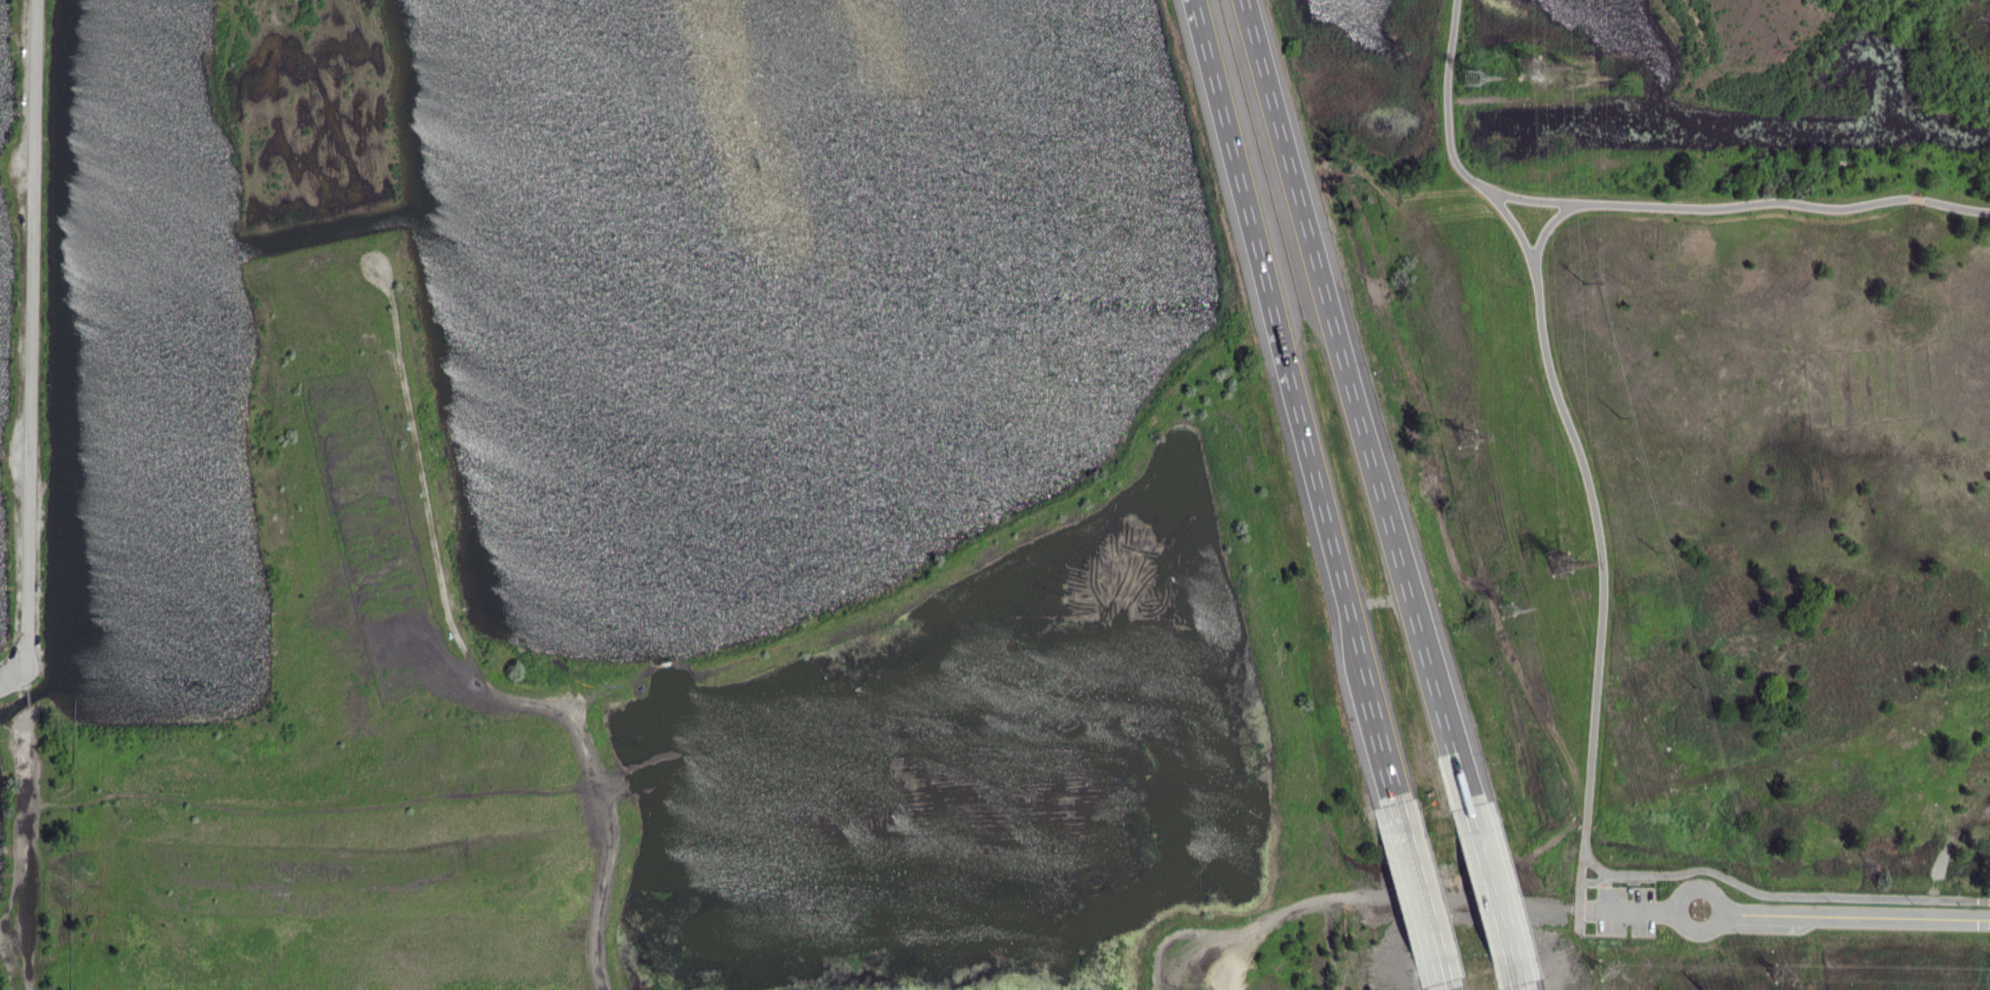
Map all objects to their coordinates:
power tower: (1522, 70)
power tower: (1574, 77)
power tower: (1472, 81)
road: (1445, 98)
road: (1530, 199)
road: (1787, 202)
road: (1517, 230)
road: (1542, 234)
power tower: (1578, 285)
road: (1281, 338)
road: (33, 349)
road: (1357, 411)
power tower: (1618, 417)
power tower: (1471, 441)
park: (29, 542)
power tower: (1657, 552)
power tower: (1562, 565)
road: (1600, 566)
power tower: (1511, 611)
road: (471, 660)
power tower: (1694, 689)
road: (28, 698)
road: (1381, 749)
power tower: (1732, 825)
road: (1407, 853)
road: (1584, 882)
road: (1702, 887)
road: (1489, 894)
road: (1781, 895)
road: (1341, 897)
road: (1626, 911)
road: (1862, 916)
road: (1422, 923)
road: (1430, 924)
road: (1701, 929)
power tower: (1778, 968)
road: (1432, 976)
road: (1449, 976)
road: (1512, 977)

